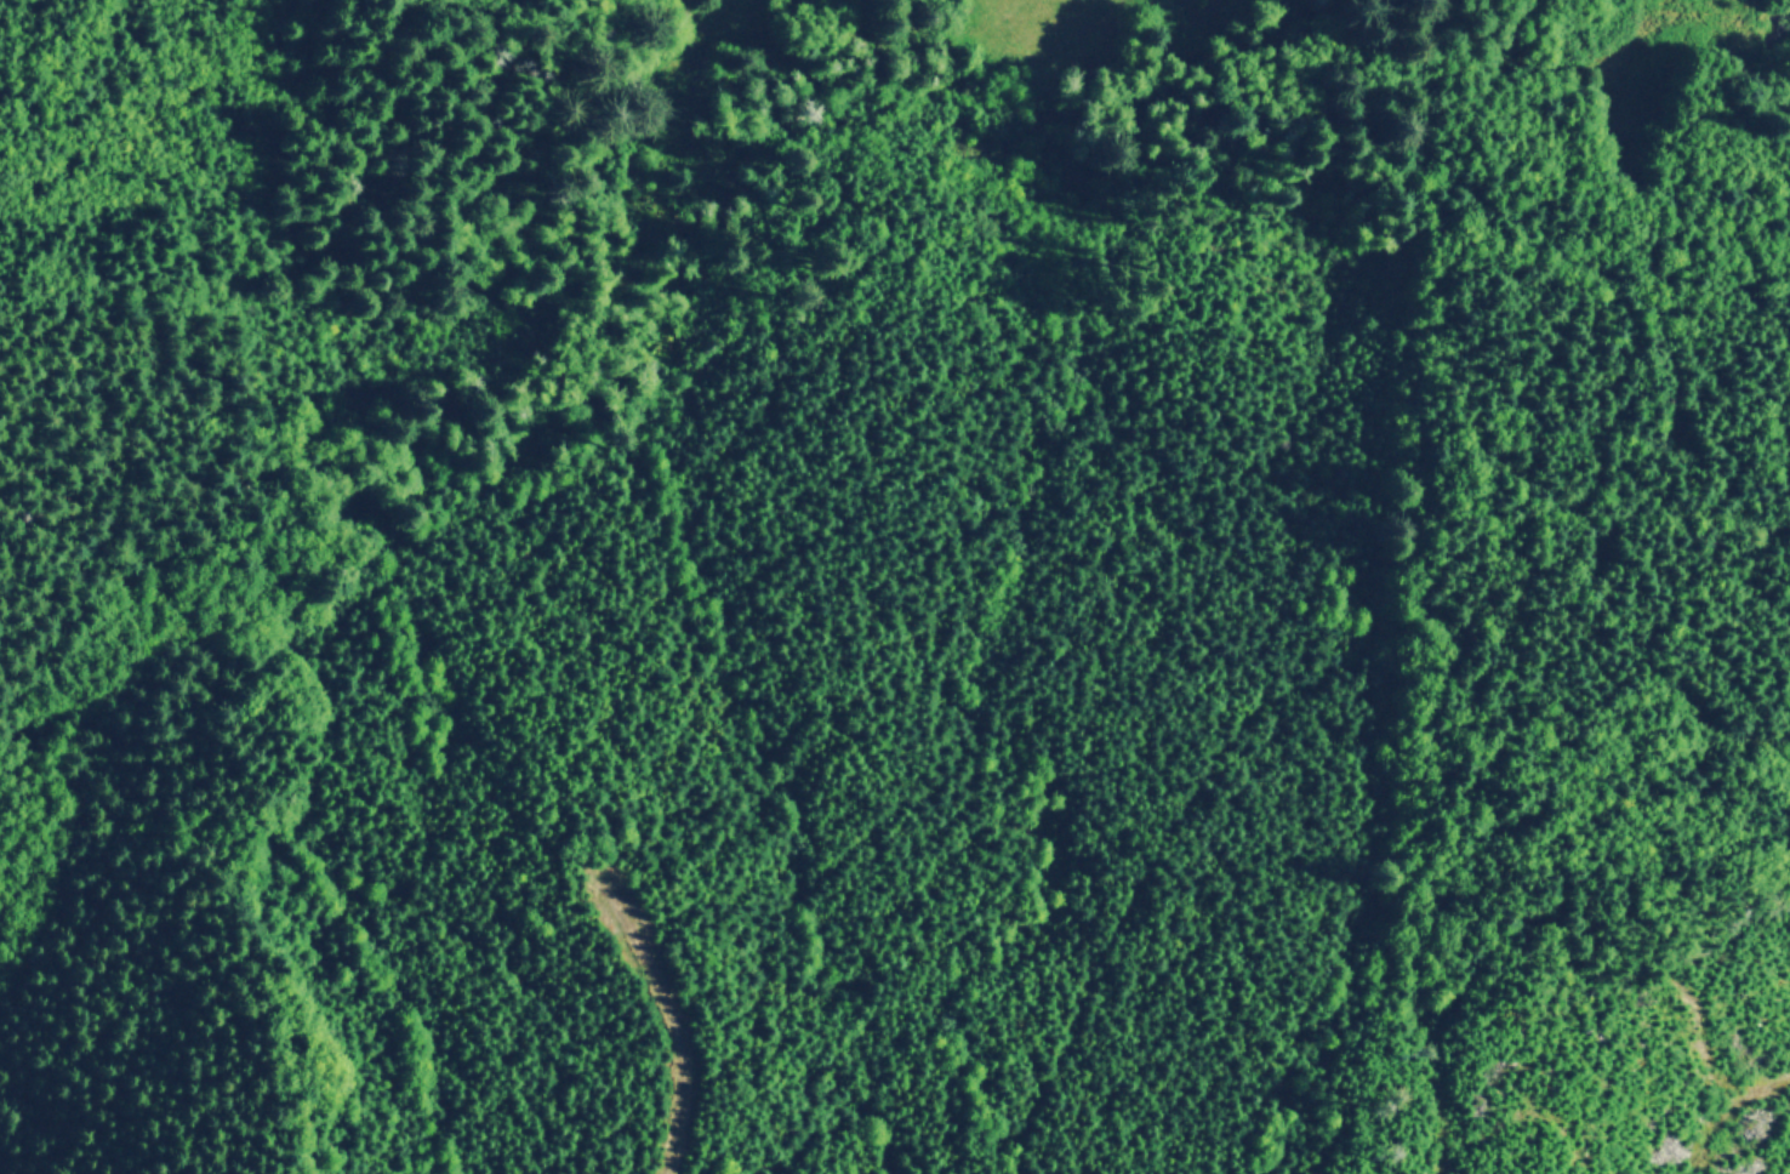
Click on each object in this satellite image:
road: (1293, 685)

